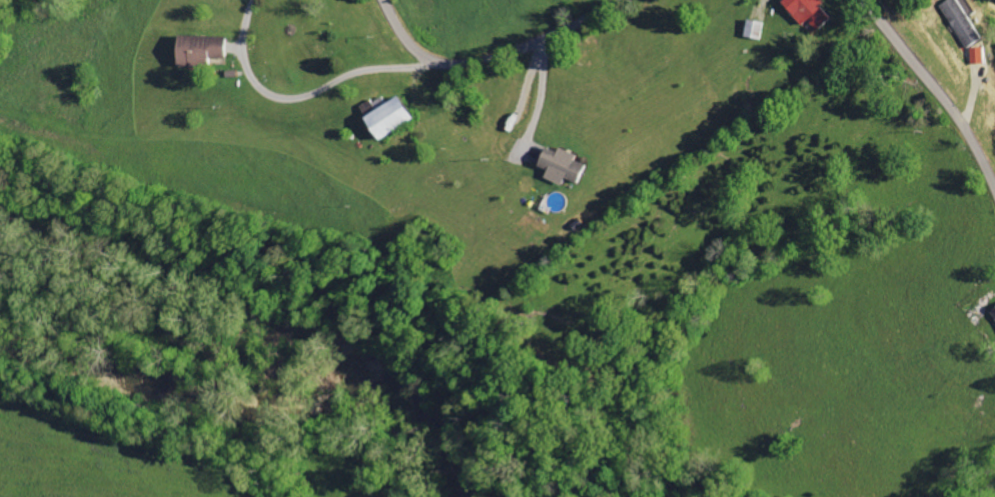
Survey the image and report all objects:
building: (804, 11)
building: (961, 20)
building: (196, 50)
building: (977, 55)
road: (494, 59)
road: (935, 91)
road: (302, 98)
road: (538, 102)
building: (383, 119)
building: (560, 166)
building: (993, 311)

